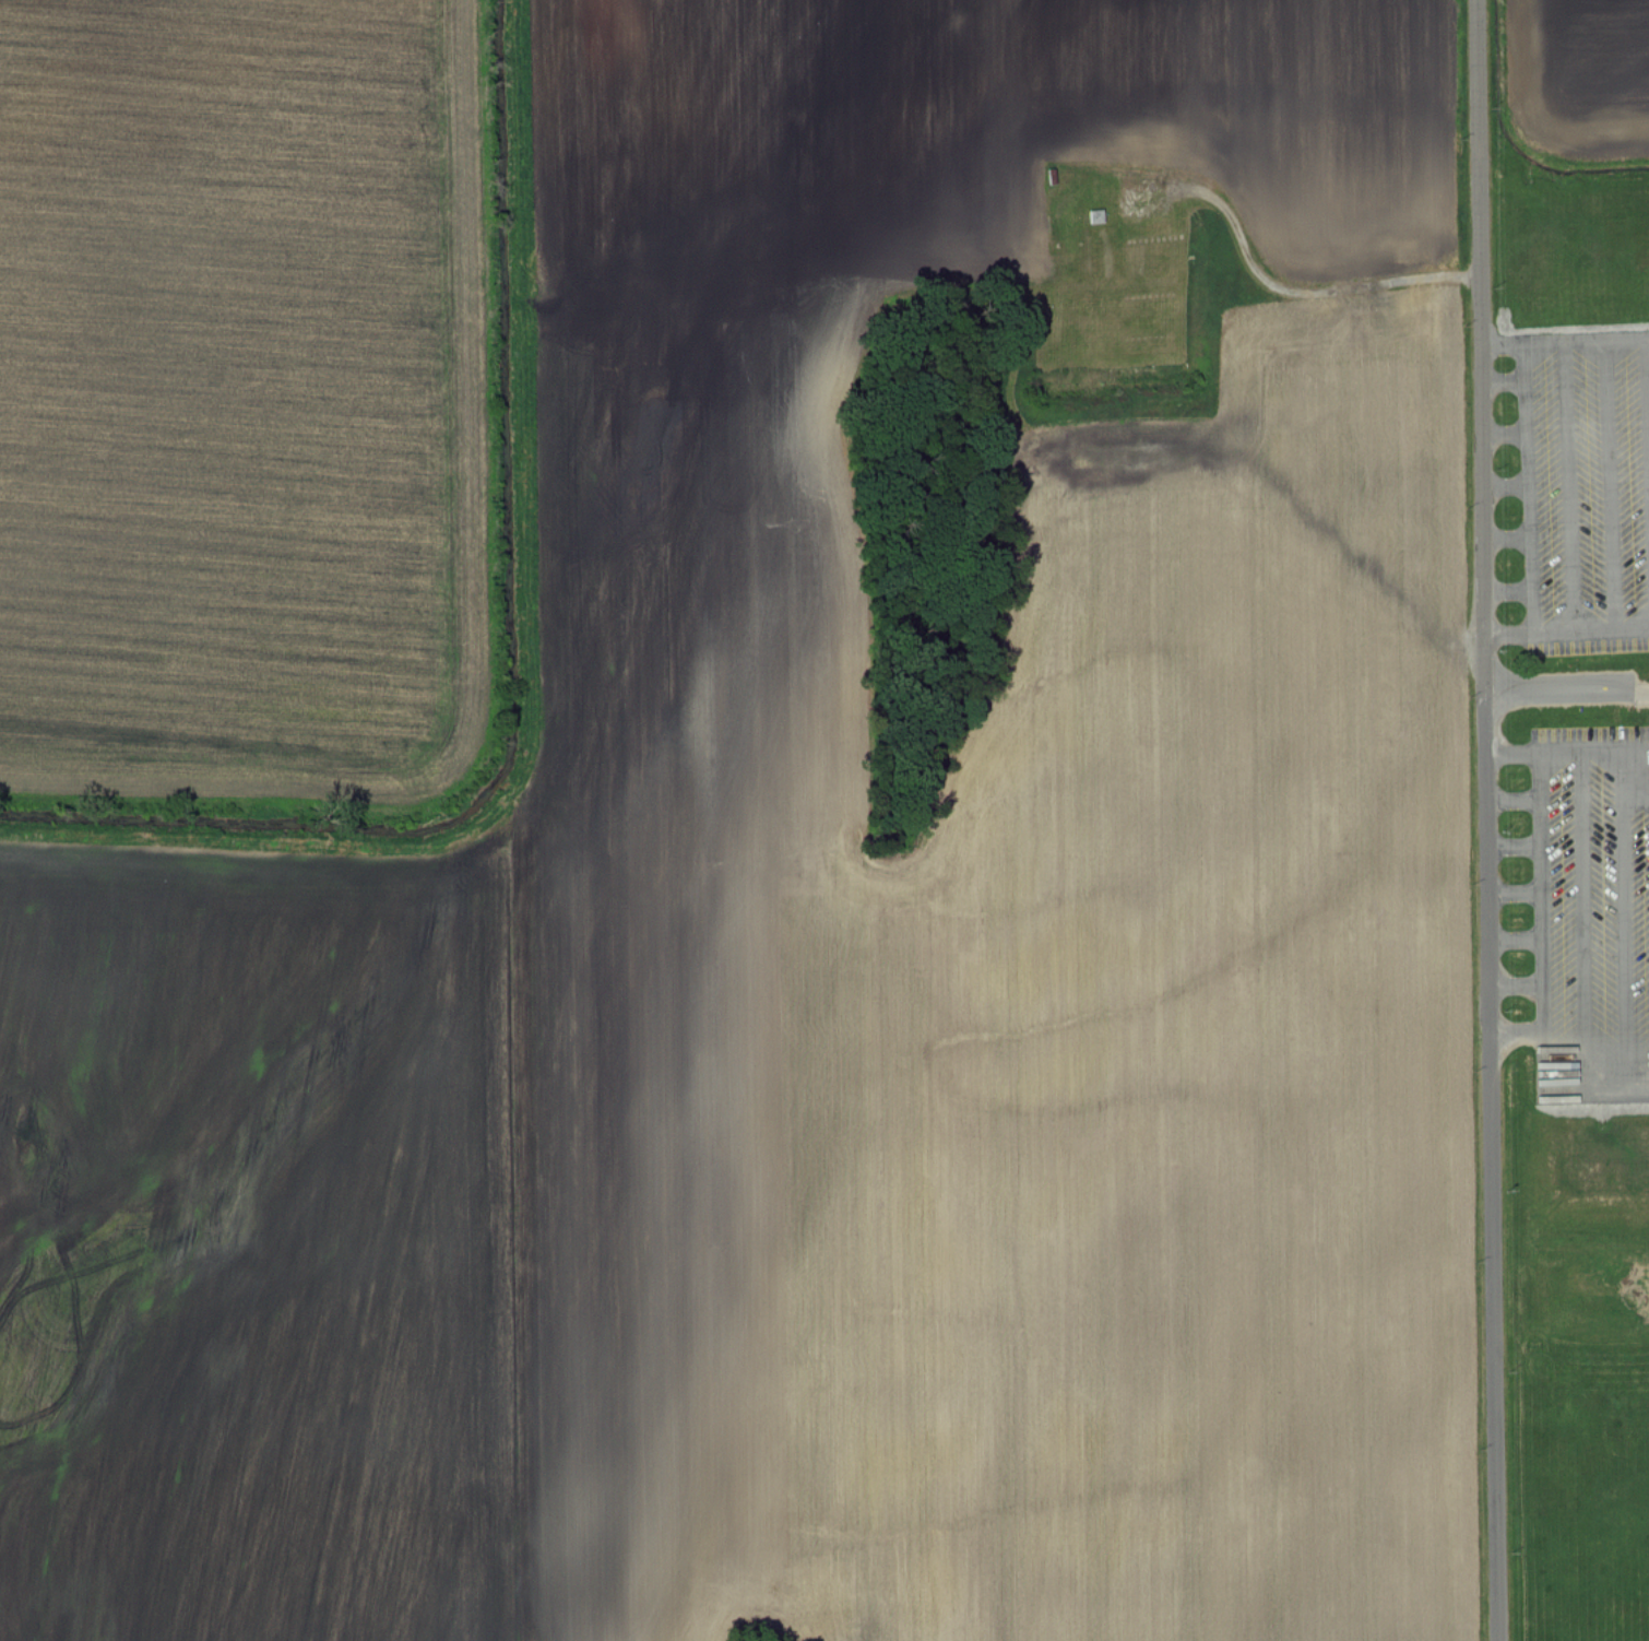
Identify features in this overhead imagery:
road: (1565, 344)
road: (1502, 383)
road: (1647, 389)
road: (1503, 435)
road: (1610, 485)
road: (1567, 486)
road: (1525, 487)
road: (1504, 491)
road: (1505, 541)
road: (1506, 591)
road: (1566, 629)
road: (1556, 692)
road: (1510, 754)
road: (1603, 754)
road: (1511, 801)
road: (1486, 820)
road: (1512, 843)
road: (1514, 896)
road: (1625, 922)
road: (1583, 923)
road: (1515, 937)
road: (1542, 975)
road: (1516, 988)
road: (1517, 1035)

